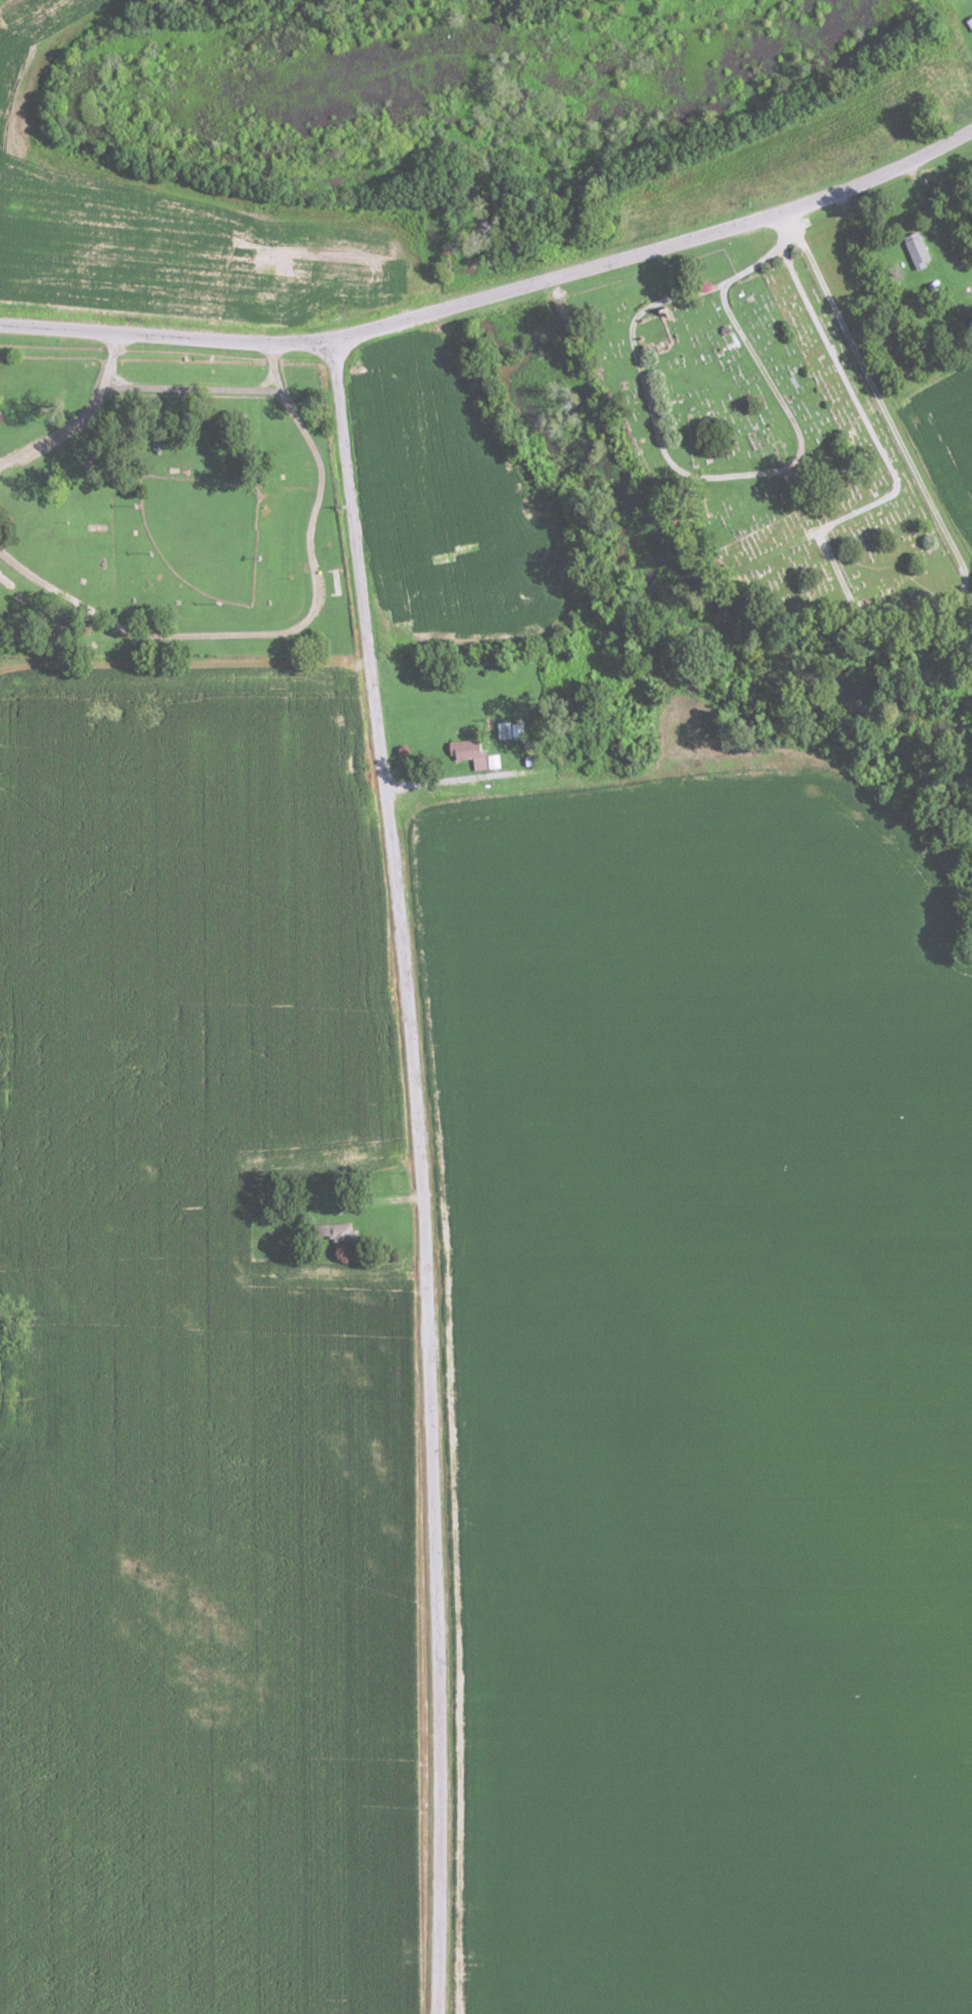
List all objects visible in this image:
building: (970, 21)
building: (917, 249)
road: (656, 251)
road: (165, 336)
road: (878, 396)
road: (256, 465)
road: (176, 660)
building: (475, 754)
road: (416, 1173)

